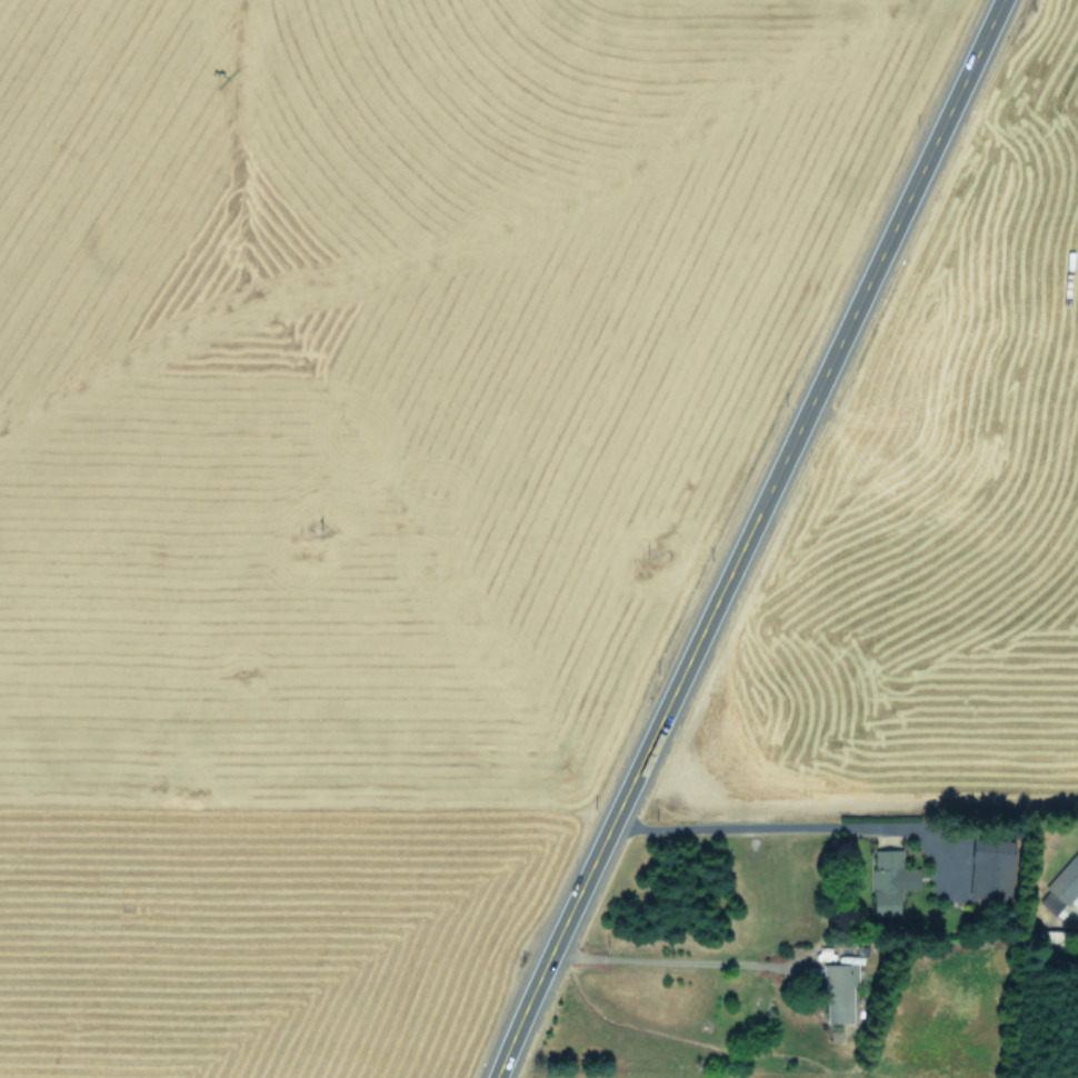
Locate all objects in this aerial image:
crop: (342, 467)
road: (745, 538)
crop: (912, 731)
road: (789, 826)
building: (990, 867)
building: (888, 881)
building: (1061, 886)
road: (676, 960)
building: (839, 990)

